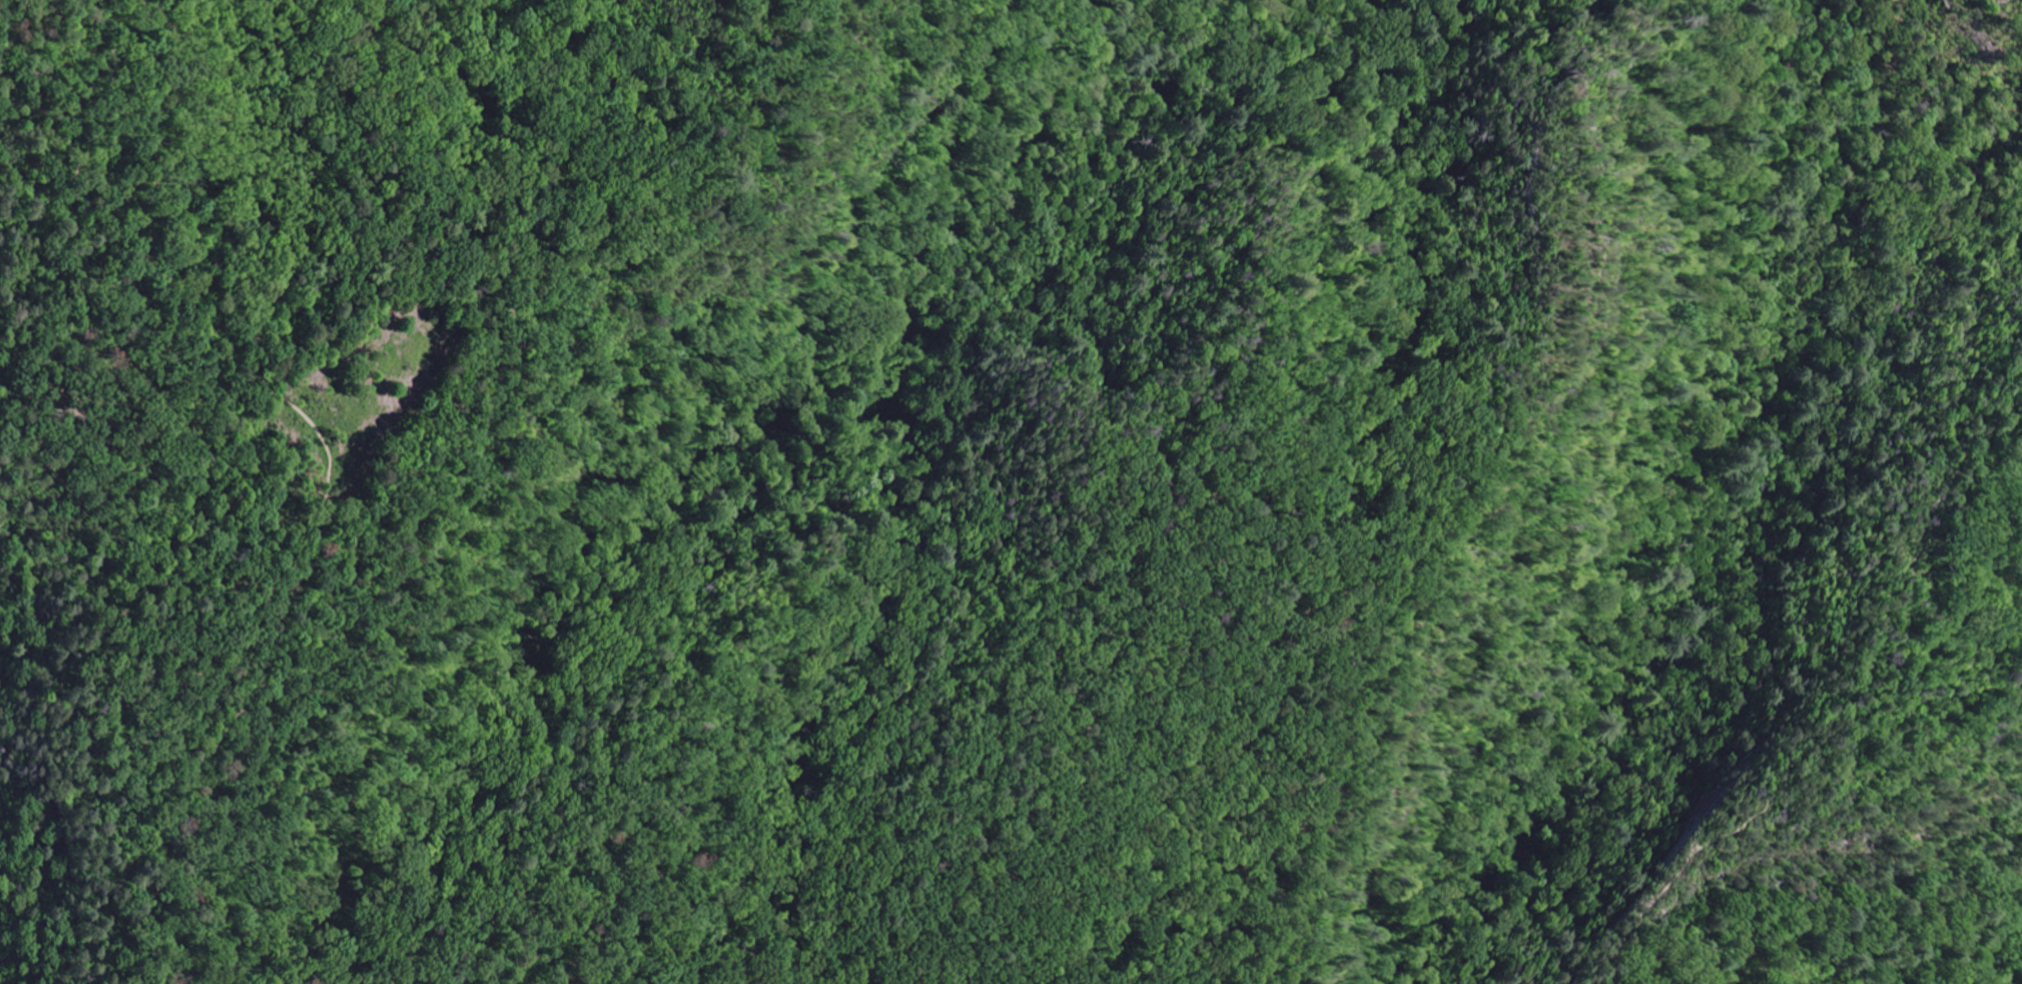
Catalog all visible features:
road: (326, 456)
road: (1834, 713)

